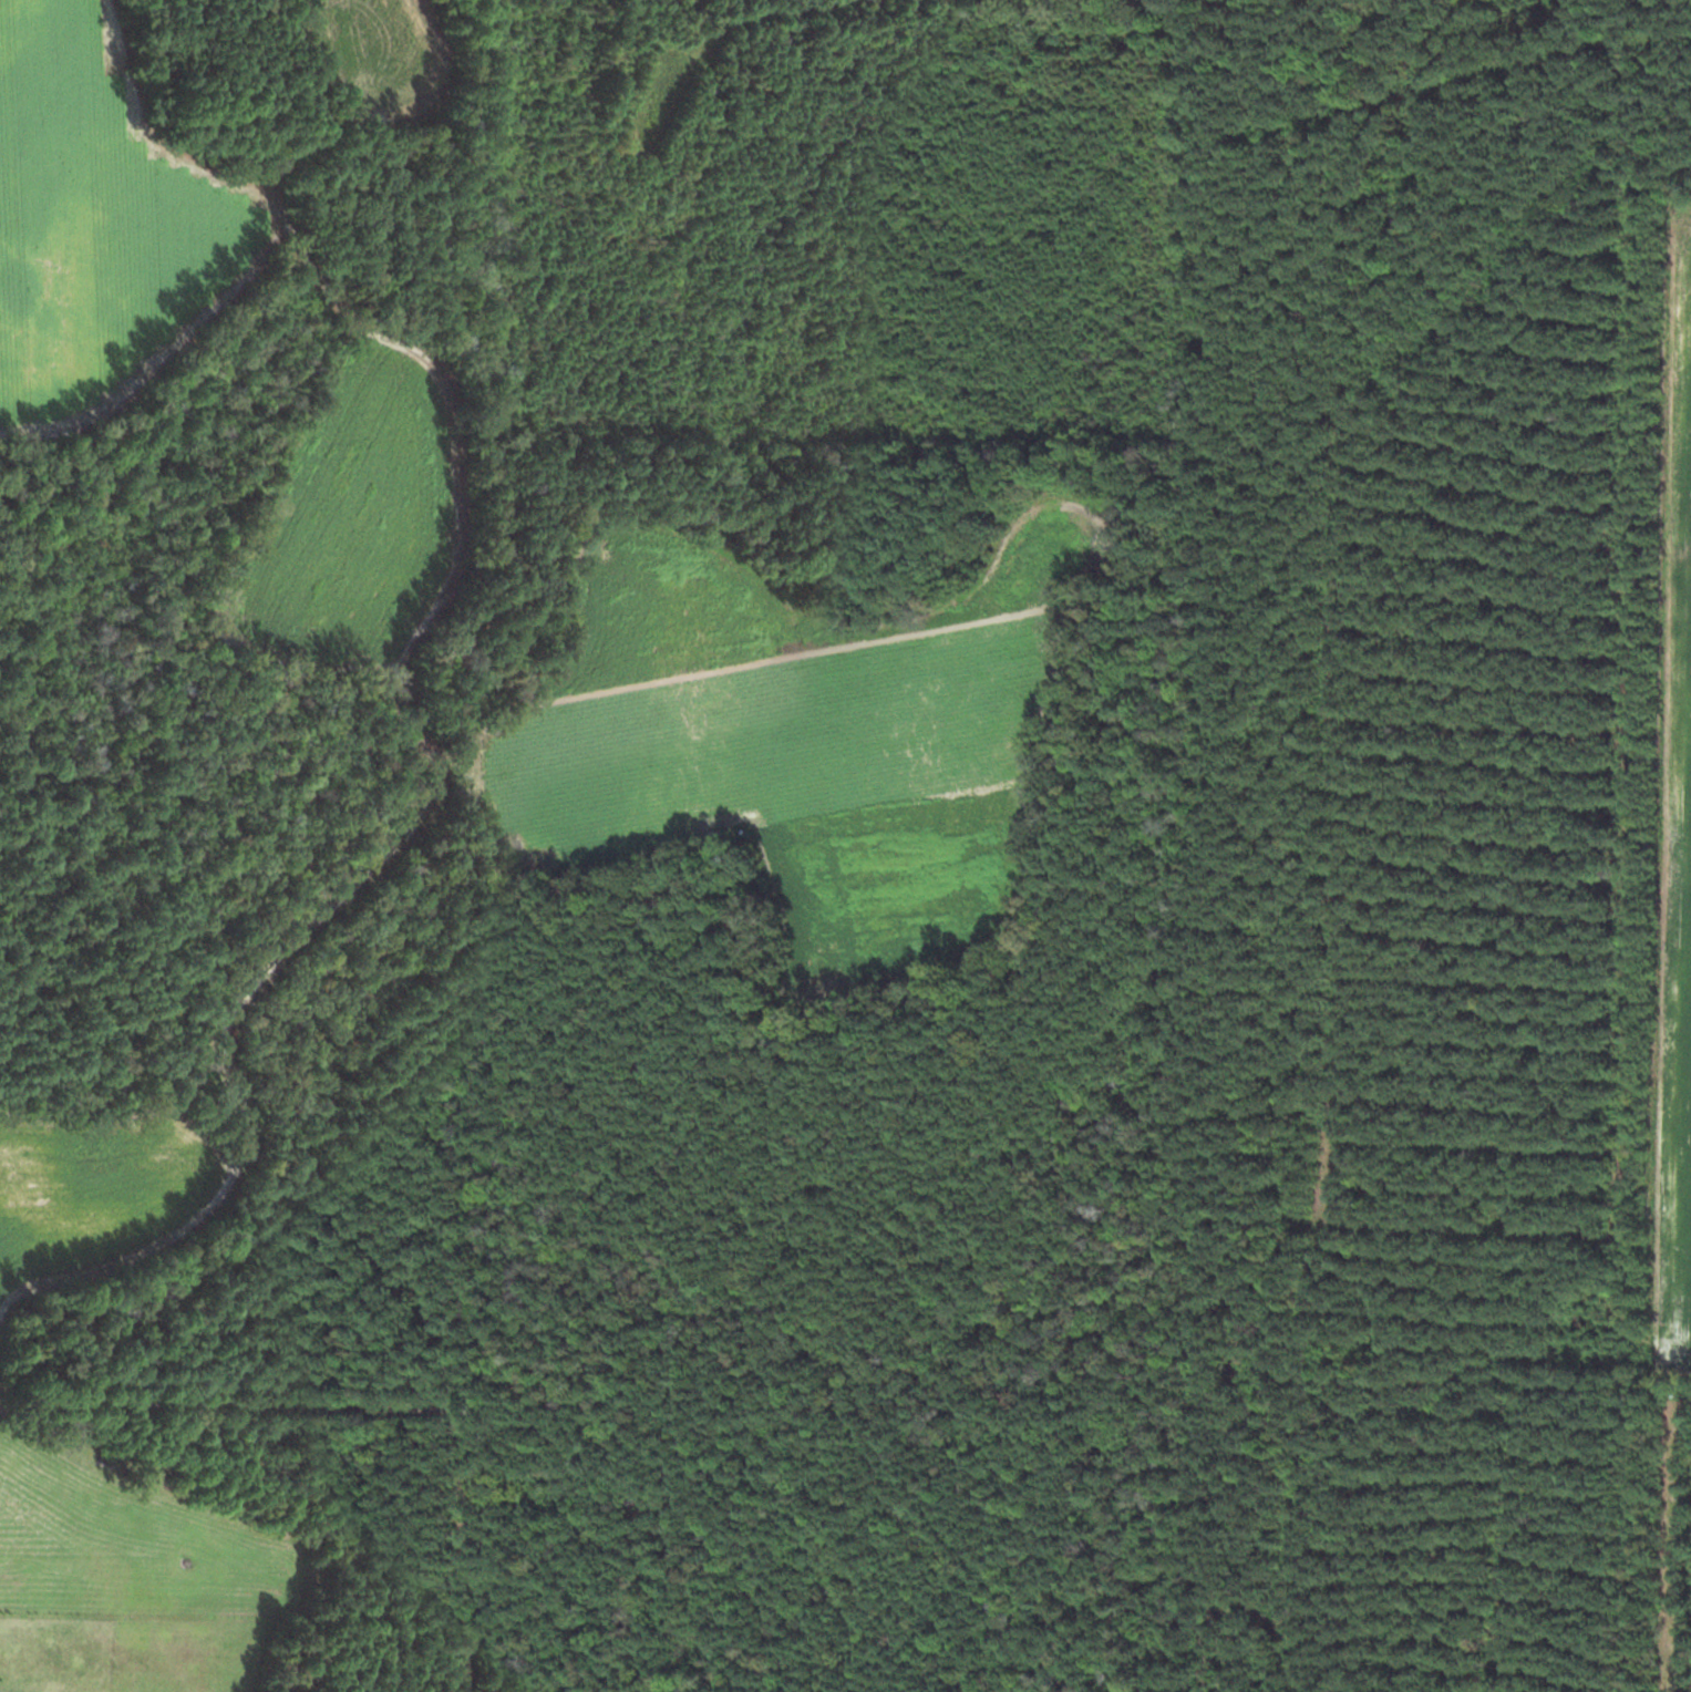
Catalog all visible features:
building: (8, 1686)

